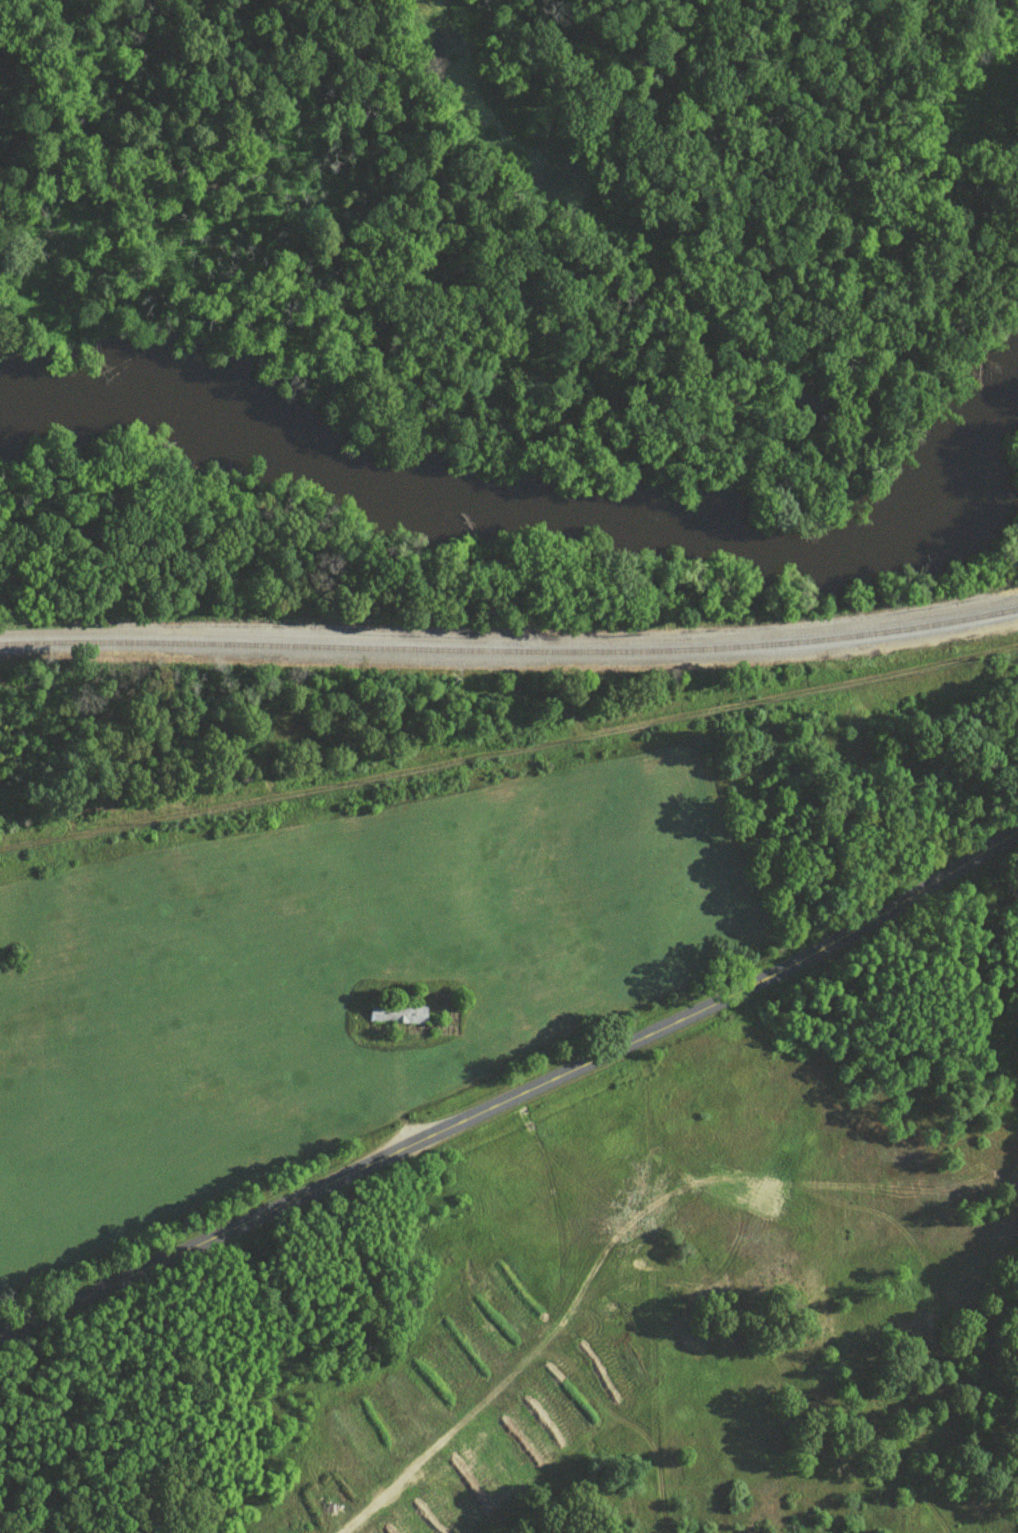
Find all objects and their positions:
river: (535, 519)
railway: (510, 650)
building: (396, 1012)
road: (515, 1089)
road: (404, 1471)

